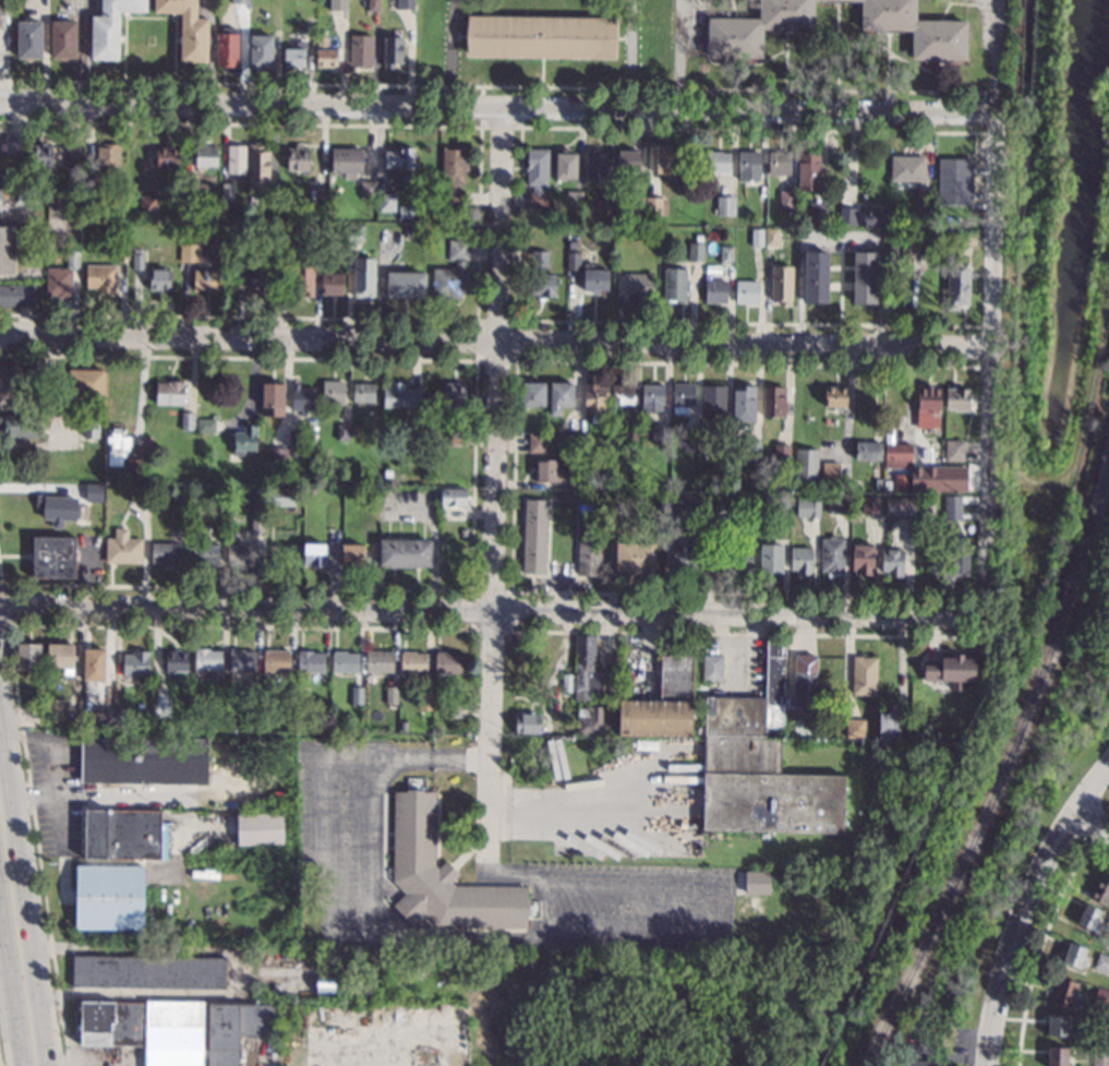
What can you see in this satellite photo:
building: (240, 1)
road: (967, 3)
building: (406, 4)
building: (338, 5)
building: (373, 5)
building: (1, 13)
building: (310, 26)
building: (110, 27)
building: (188, 28)
building: (735, 31)
road: (832, 34)
building: (540, 37)
building: (62, 39)
building: (28, 40)
road: (835, 46)
building: (227, 48)
building: (361, 50)
building: (393, 51)
building: (261, 52)
road: (447, 52)
building: (325, 53)
road: (628, 53)
building: (296, 55)
road: (678, 55)
road: (995, 58)
road: (784, 60)
road: (887, 61)
road: (497, 86)
road: (496, 106)
road: (499, 127)
building: (14, 144)
building: (70, 156)
building: (40, 157)
building: (166, 157)
building: (206, 157)
building: (107, 158)
building: (298, 158)
building: (236, 159)
building: (399, 159)
building: (627, 160)
building: (347, 161)
building: (666, 161)
building: (719, 161)
building: (780, 163)
building: (565, 165)
building: (748, 165)
building: (595, 166)
building: (257, 167)
building: (808, 169)
building: (907, 170)
building: (454, 173)
building: (537, 176)
building: (8, 180)
building: (955, 181)
building: (86, 183)
building: (367, 190)
building: (191, 192)
building: (227, 192)
building: (321, 193)
building: (24, 195)
building: (86, 197)
building: (574, 199)
building: (604, 200)
building: (787, 200)
building: (0, 201)
building: (270, 203)
building: (147, 205)
building: (386, 205)
building: (637, 205)
building: (725, 205)
building: (654, 206)
building: (405, 212)
building: (923, 213)
building: (817, 214)
building: (846, 216)
building: (873, 218)
building: (755, 220)
road: (478, 221)
road: (519, 223)
building: (189, 225)
building: (937, 225)
building: (953, 225)
building: (967, 225)
building: (240, 230)
building: (287, 232)
building: (407, 232)
building: (354, 233)
road: (841, 233)
building: (757, 237)
building: (771, 237)
building: (699, 238)
building: (939, 240)
building: (903, 243)
building: (321, 249)
building: (7, 250)
building: (121, 250)
building: (189, 252)
building: (696, 252)
building: (726, 254)
building: (540, 259)
building: (72, 260)
building: (137, 260)
building: (572, 262)
building: (451, 273)
building: (816, 277)
building: (865, 277)
building: (100, 278)
building: (261, 278)
building: (364, 278)
road: (841, 278)
building: (159, 279)
building: (303, 279)
building: (207, 280)
building: (595, 280)
building: (58, 283)
building: (332, 283)
building: (782, 284)
building: (406, 285)
building: (542, 285)
building: (675, 285)
building: (639, 286)
building: (957, 288)
building: (715, 291)
building: (923, 291)
building: (746, 292)
building: (16, 296)
road: (494, 342)
road: (516, 359)
road: (1015, 363)
road: (987, 367)
building: (85, 382)
building: (10, 386)
building: (333, 392)
building: (363, 392)
building: (170, 393)
building: (454, 394)
building: (533, 394)
building: (622, 394)
road: (142, 395)
building: (400, 396)
building: (835, 396)
building: (560, 397)
building: (595, 397)
building: (683, 397)
building: (273, 398)
building: (302, 398)
building: (652, 398)
building: (956, 398)
building: (713, 400)
building: (928, 400)
building: (744, 403)
building: (774, 403)
road: (847, 403)
building: (186, 421)
building: (21, 426)
building: (206, 426)
building: (91, 427)
building: (355, 430)
building: (726, 431)
building: (342, 432)
building: (631, 433)
building: (703, 433)
building: (661, 434)
building: (459, 436)
building: (294, 439)
building: (244, 440)
building: (148, 442)
building: (537, 442)
building: (565, 442)
building: (690, 442)
building: (587, 443)
building: (116, 446)
building: (749, 447)
building: (868, 451)
building: (953, 451)
building: (781, 453)
building: (939, 455)
building: (277, 456)
building: (897, 456)
building: (807, 464)
building: (134, 469)
building: (551, 471)
building: (387, 472)
building: (830, 472)
road: (472, 476)
road: (513, 476)
road: (492, 480)
building: (902, 481)
building: (723, 482)
building: (704, 484)
building: (878, 484)
building: (887, 484)
building: (154, 487)
building: (311, 489)
building: (382, 490)
building: (94, 492)
building: (138, 492)
building: (614, 493)
building: (734, 494)
building: (281, 496)
building: (453, 496)
building: (679, 501)
building: (785, 502)
building: (839, 502)
building: (932, 502)
building: (870, 505)
building: (807, 507)
building: (900, 507)
building: (952, 507)
building: (966, 507)
building: (60, 510)
building: (718, 510)
building: (183, 526)
building: (256, 526)
building: (212, 529)
building: (463, 532)
building: (534, 536)
building: (589, 539)
building: (122, 548)
building: (166, 553)
building: (405, 553)
building: (683, 553)
building: (204, 554)
building: (242, 554)
building: (314, 554)
building: (352, 555)
building: (832, 555)
building: (635, 556)
building: (53, 558)
building: (959, 558)
building: (740, 559)
building: (771, 559)
building: (863, 559)
building: (801, 560)
building: (892, 562)
road: (4, 608)
road: (491, 612)
road: (239, 627)
road: (470, 628)
road: (751, 633)
building: (60, 656)
building: (27, 657)
building: (207, 659)
building: (241, 660)
building: (176, 661)
building: (310, 661)
building: (378, 661)
building: (275, 662)
building: (345, 662)
building: (412, 662)
building: (447, 662)
building: (136, 663)
building: (93, 664)
building: (711, 668)
building: (586, 669)
building: (950, 670)
building: (864, 675)
building: (566, 683)
building: (325, 688)
building: (254, 693)
building: (288, 694)
building: (357, 695)
building: (391, 695)
building: (424, 700)
building: (158, 704)
building: (662, 704)
building: (612, 706)
building: (53, 710)
building: (451, 711)
building: (99, 716)
building: (120, 717)
building: (591, 720)
building: (195, 723)
building: (530, 724)
building: (888, 724)
building: (238, 726)
building: (402, 726)
building: (855, 728)
building: (903, 738)
building: (766, 757)
building: (144, 759)
railway: (1008, 767)
road: (108, 796)
road: (545, 805)
road: (1092, 822)
building: (258, 829)
building: (124, 835)
road: (37, 846)
building: (225, 875)
building: (443, 876)
road: (511, 876)
road: (376, 881)
building: (756, 882)
road: (1032, 886)
building: (1100, 891)
road: (721, 894)
building: (109, 897)
road: (22, 903)
building: (164, 908)
building: (182, 911)
building: (1088, 917)
building: (1107, 924)
building: (215, 925)
building: (1074, 956)
building: (1102, 962)
building: (148, 971)
road: (11, 983)
building: (1064, 993)
building: (1101, 998)
building: (1058, 1026)
building: (145, 1029)
building: (236, 1029)
building: (293, 1029)
building: (1101, 1038)
building: (918, 1043)
road: (985, 1045)
building: (1058, 1056)
building: (1100, 1056)
road: (939, 1059)
road: (0, 1064)
building: (920, 1064)

